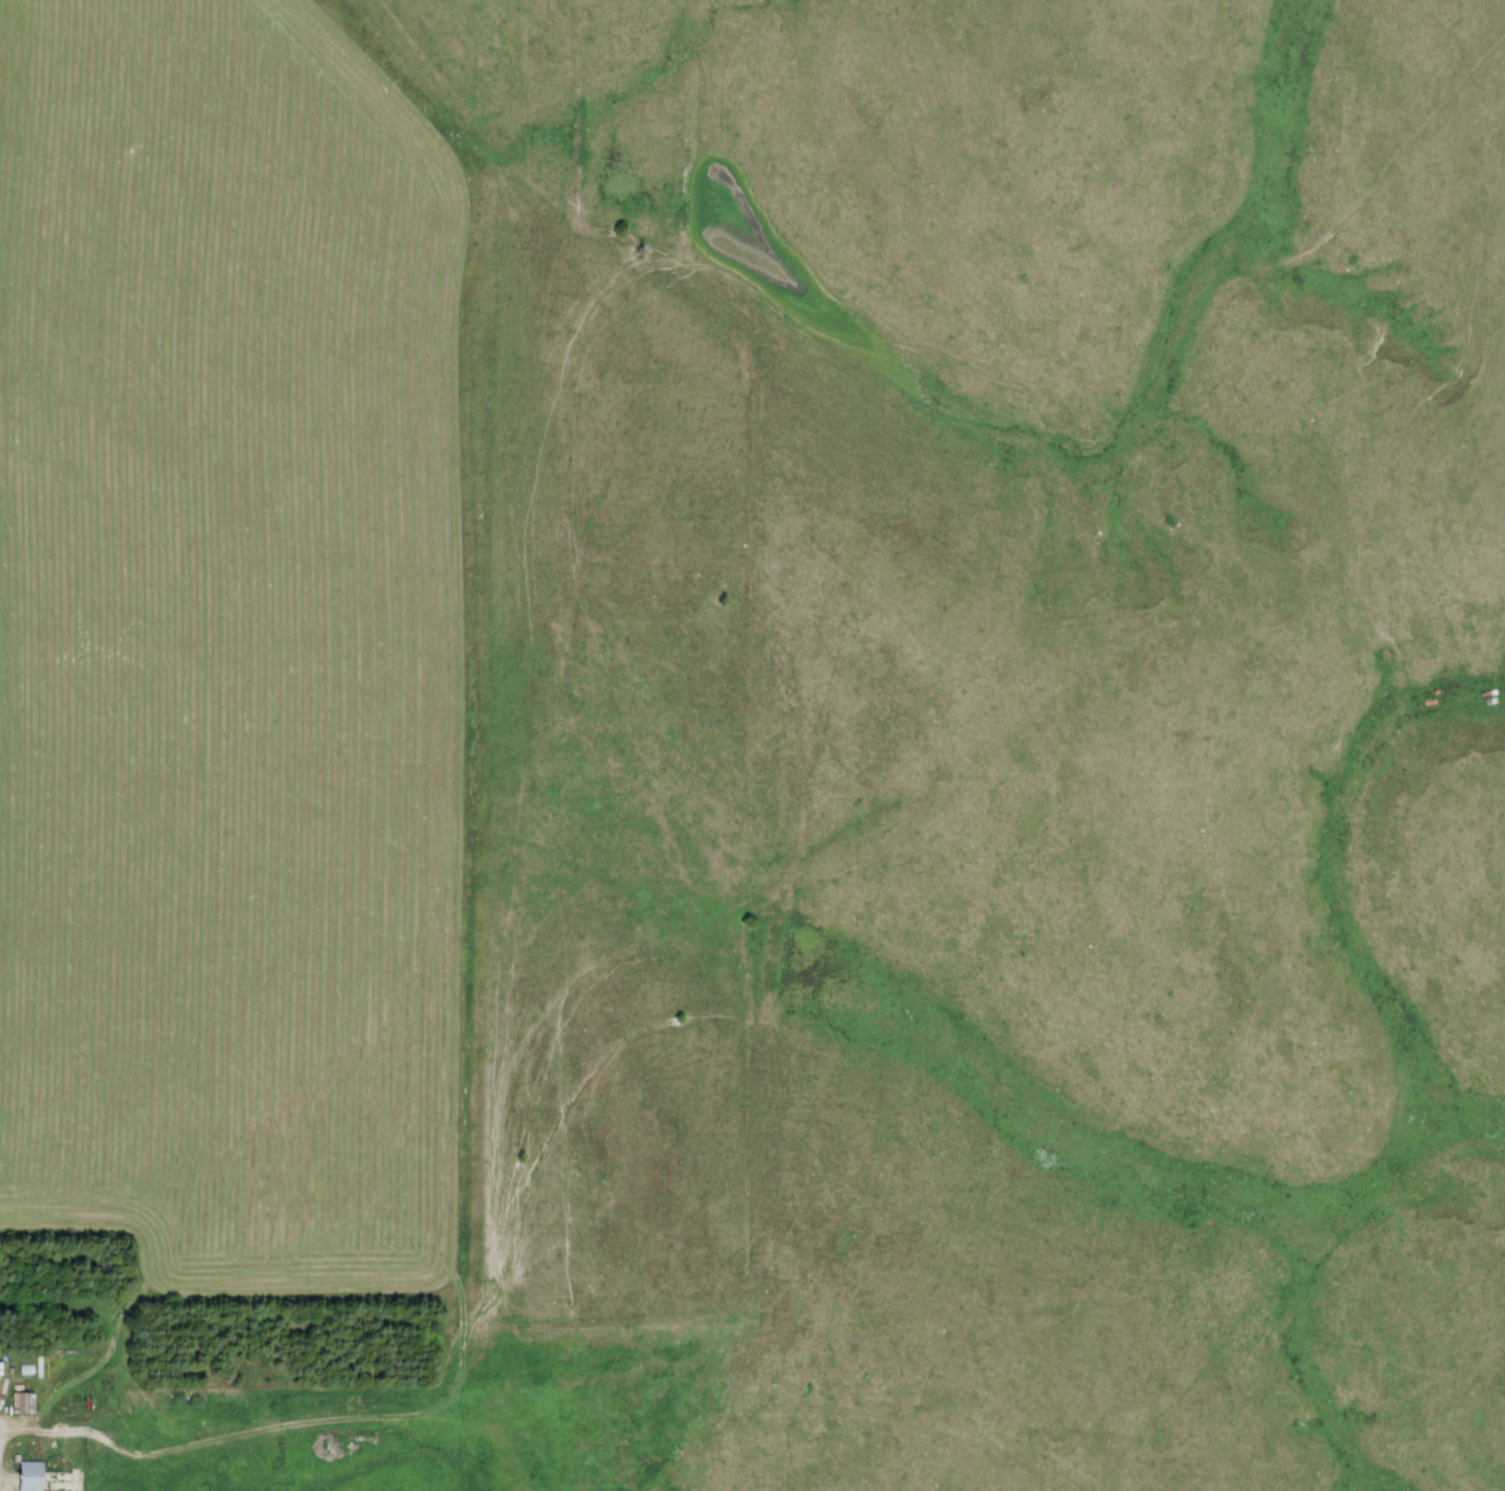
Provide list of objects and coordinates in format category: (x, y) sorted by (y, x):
building: (36, 1477)

